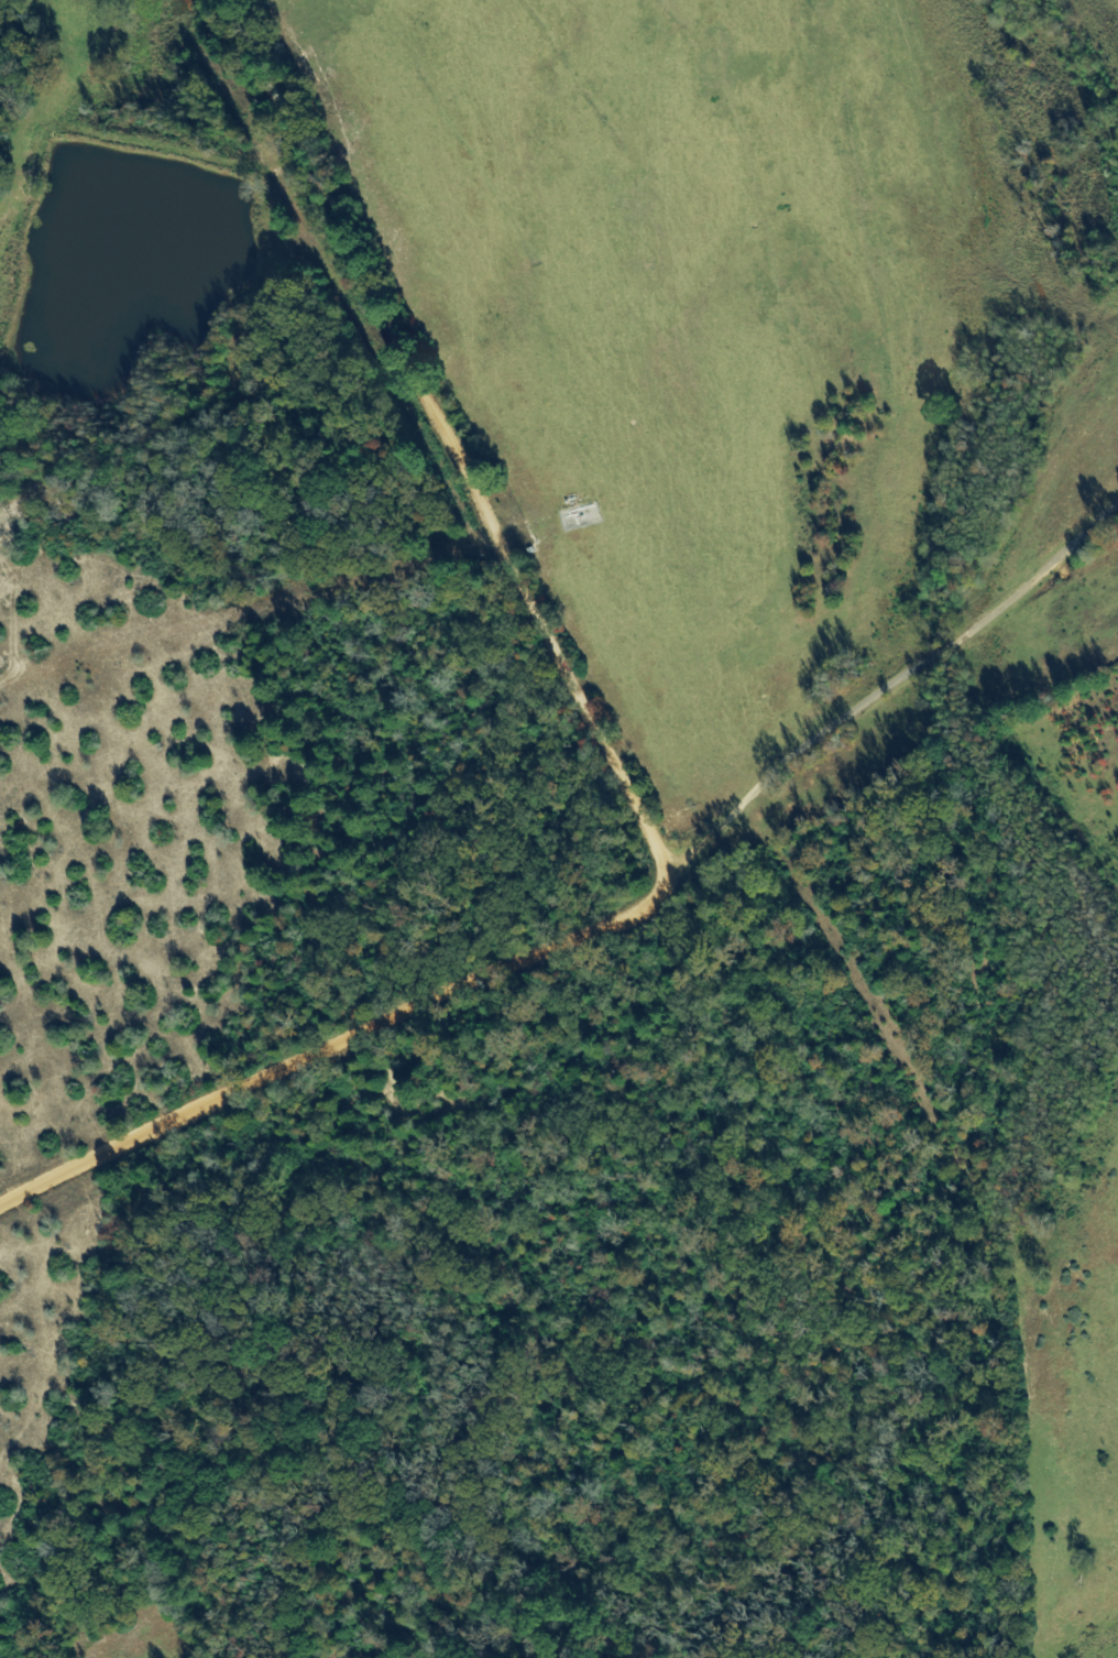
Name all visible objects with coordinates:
road: (447, 434)
road: (889, 681)
road: (336, 1041)

